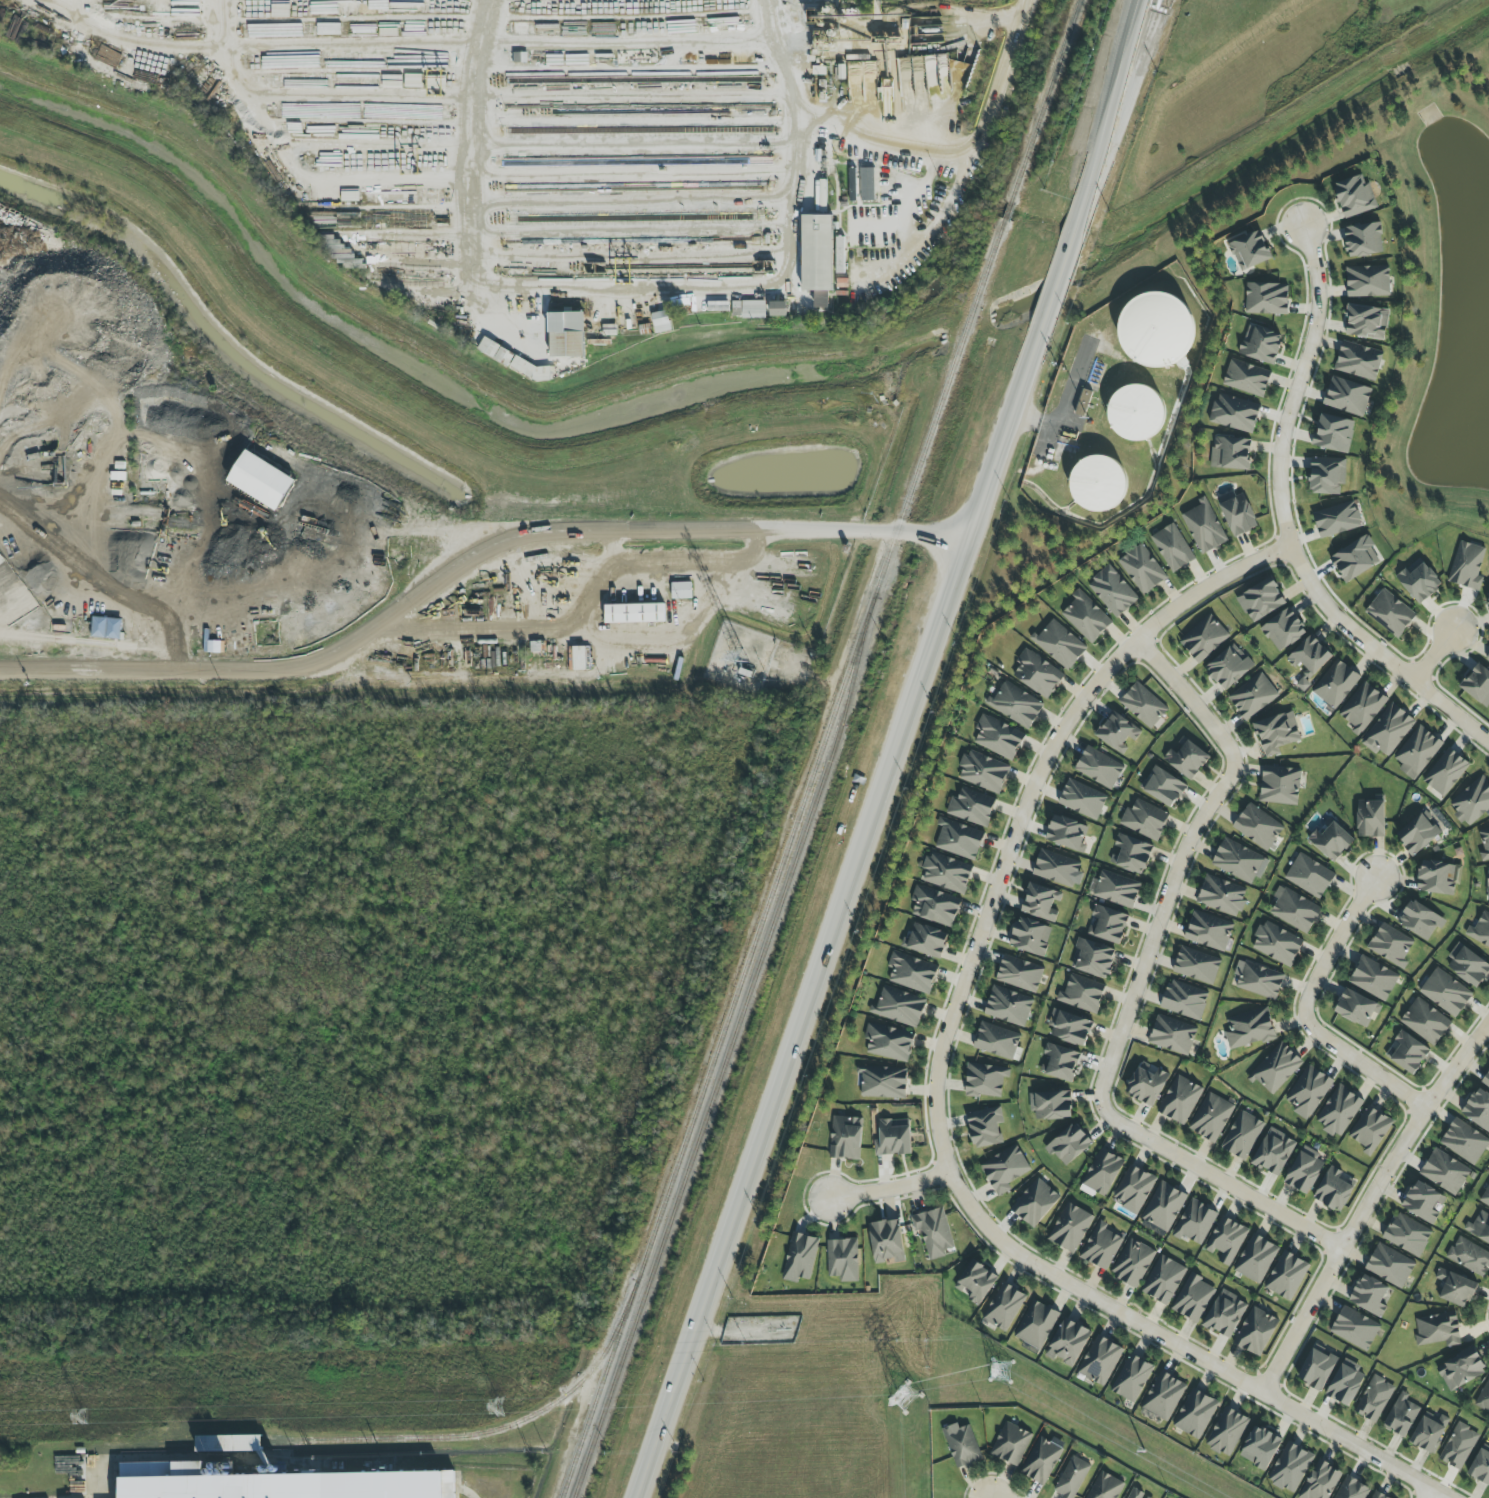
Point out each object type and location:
road: (220, 52)
road: (524, 95)
road: (888, 132)
road: (1106, 134)
road: (973, 167)
river: (1247, 177)
building: (867, 184)
building: (852, 195)
building: (1354, 196)
building: (1363, 240)
building: (1250, 250)
building: (817, 258)
building: (1368, 281)
road: (632, 284)
road: (1052, 294)
building: (1266, 298)
building: (748, 309)
building: (777, 309)
building: (661, 322)
building: (1366, 322)
river: (968, 326)
building: (1156, 330)
building: (566, 335)
building: (1260, 344)
building: (1358, 360)
building: (513, 361)
building: (1246, 378)
river: (432, 386)
building: (1347, 396)
building: (1083, 403)
road: (1061, 408)
building: (1136, 412)
building: (1234, 413)
building: (1333, 433)
building: (1230, 453)
building: (1327, 475)
building: (261, 480)
building: (1098, 483)
building: (1237, 513)
building: (1337, 519)
road: (1285, 525)
building: (1203, 527)
road: (745, 532)
building: (1172, 548)
building: (1354, 559)
road: (675, 563)
building: (1467, 566)
building: (1142, 568)
building: (1418, 580)
building: (651, 590)
building: (681, 590)
building: (1112, 591)
building: (1487, 596)
building: (1261, 600)
building: (634, 613)
building: (1390, 613)
building: (1086, 617)
road: (525, 622)
road: (681, 624)
building: (106, 628)
building: (1283, 630)
building: (1204, 638)
building: (1059, 644)
road: (1433, 655)
building: (1309, 656)
building: (1487, 657)
building: (1229, 667)
road: (280, 668)
building: (1037, 673)
building: (1335, 684)
building: (1477, 685)
building: (1252, 696)
building: (1015, 705)
building: (1143, 705)
building: (1362, 708)
building: (1388, 730)
building: (1117, 732)
building: (1276, 733)
building: (998, 737)
railway: (820, 749)
building: (1417, 752)
building: (1187, 759)
building: (1099, 767)
building: (983, 772)
building: (1445, 772)
building: (1280, 785)
building: (1163, 786)
building: (1082, 799)
building: (1472, 802)
building: (971, 807)
building: (1370, 819)
building: (1144, 820)
building: (1257, 827)
building: (1067, 834)
building: (1417, 834)
building: (959, 839)
building: (1331, 840)
building: (1484, 844)
building: (1131, 854)
building: (1237, 861)
building: (1056, 868)
building: (946, 873)
building: (1309, 876)
building: (1438, 877)
building: (1487, 887)
building: (1117, 889)
building: (1221, 895)
building: (1041, 902)
building: (935, 906)
road: (841, 909)
building: (1294, 910)
building: (1420, 920)
building: (1107, 925)
building: (1480, 930)
building: (1208, 931)
building: (1030, 936)
building: (926, 941)
building: (1276, 944)
building: (1390, 945)
building: (1092, 958)
building: (1196, 965)
building: (1467, 965)
building: (911, 973)
building: (1019, 974)
building: (1373, 978)
building: (1260, 981)
road: (1137, 987)
road: (960, 990)
building: (1445, 992)
building: (1082, 994)
building: (1184, 1000)
building: (1008, 1006)
building: (899, 1007)
building: (1356, 1009)
road: (1309, 1015)
building: (1425, 1021)
building: (1069, 1027)
building: (1249, 1029)
building: (1172, 1035)
building: (889, 1042)
building: (998, 1042)
railway: (729, 1049)
building: (1406, 1052)
building: (1060, 1062)
building: (1276, 1068)
building: (985, 1080)
building: (1486, 1081)
building: (883, 1082)
building: (1146, 1084)
building: (1308, 1092)
building: (1180, 1100)
building: (1051, 1105)
building: (1478, 1109)
building: (1339, 1111)
building: (1211, 1117)
building: (985, 1127)
building: (1370, 1130)
building: (1242, 1135)
building: (893, 1137)
building: (846, 1138)
building: (1464, 1141)
building: (1069, 1144)
building: (1273, 1152)
building: (1005, 1169)
building: (1304, 1170)
building: (1445, 1172)
building: (1101, 1174)
road: (889, 1187)
building: (1133, 1189)
building: (1335, 1189)
building: (1485, 1197)
building: (1424, 1202)
building: (1035, 1203)
building: (1164, 1206)
road: (1369, 1206)
building: (1195, 1223)
building: (1070, 1228)
building: (1478, 1228)
building: (934, 1233)
building: (1407, 1235)
building: (1226, 1240)
building: (886, 1241)
building: (1101, 1246)
building: (799, 1257)
building: (1469, 1257)
building: (842, 1259)
building: (1255, 1259)
building: (1133, 1263)
building: (1390, 1265)
building: (1286, 1275)
building: (1163, 1280)
building: (976, 1282)
building: (1455, 1288)
building: (1369, 1295)
building: (1193, 1298)
building: (1004, 1307)
building: (1225, 1314)
building: (1037, 1325)
building: (1355, 1328)
building: (1437, 1329)
building: (1256, 1331)
building: (1068, 1342)
building: (1100, 1360)
building: (1316, 1369)
building: (1461, 1369)
building: (1132, 1378)
building: (1346, 1383)
power tower: (1020, 1384)
building: (1163, 1396)
power tower: (904, 1397)
building: (1484, 1397)
building: (1374, 1399)
power tower: (497, 1407)
building: (1195, 1414)
building: (1401, 1416)
power tower: (80, 1417)
building: (1226, 1432)
building: (1429, 1432)
railway: (451, 1438)
building: (229, 1443)
building: (1011, 1444)
building: (962, 1446)
road: (1353, 1446)
building: (1458, 1446)
building: (1260, 1447)
building: (1041, 1461)
building: (1481, 1466)
building: (1290, 1468)
building: (1072, 1478)
road: (99, 1481)
power tower: (1195, 1481)
building: (1320, 1481)
building: (281, 1484)
building: (1105, 1486)
road: (1425, 1493)
building: (1136, 1494)
building: (1377, 1495)

